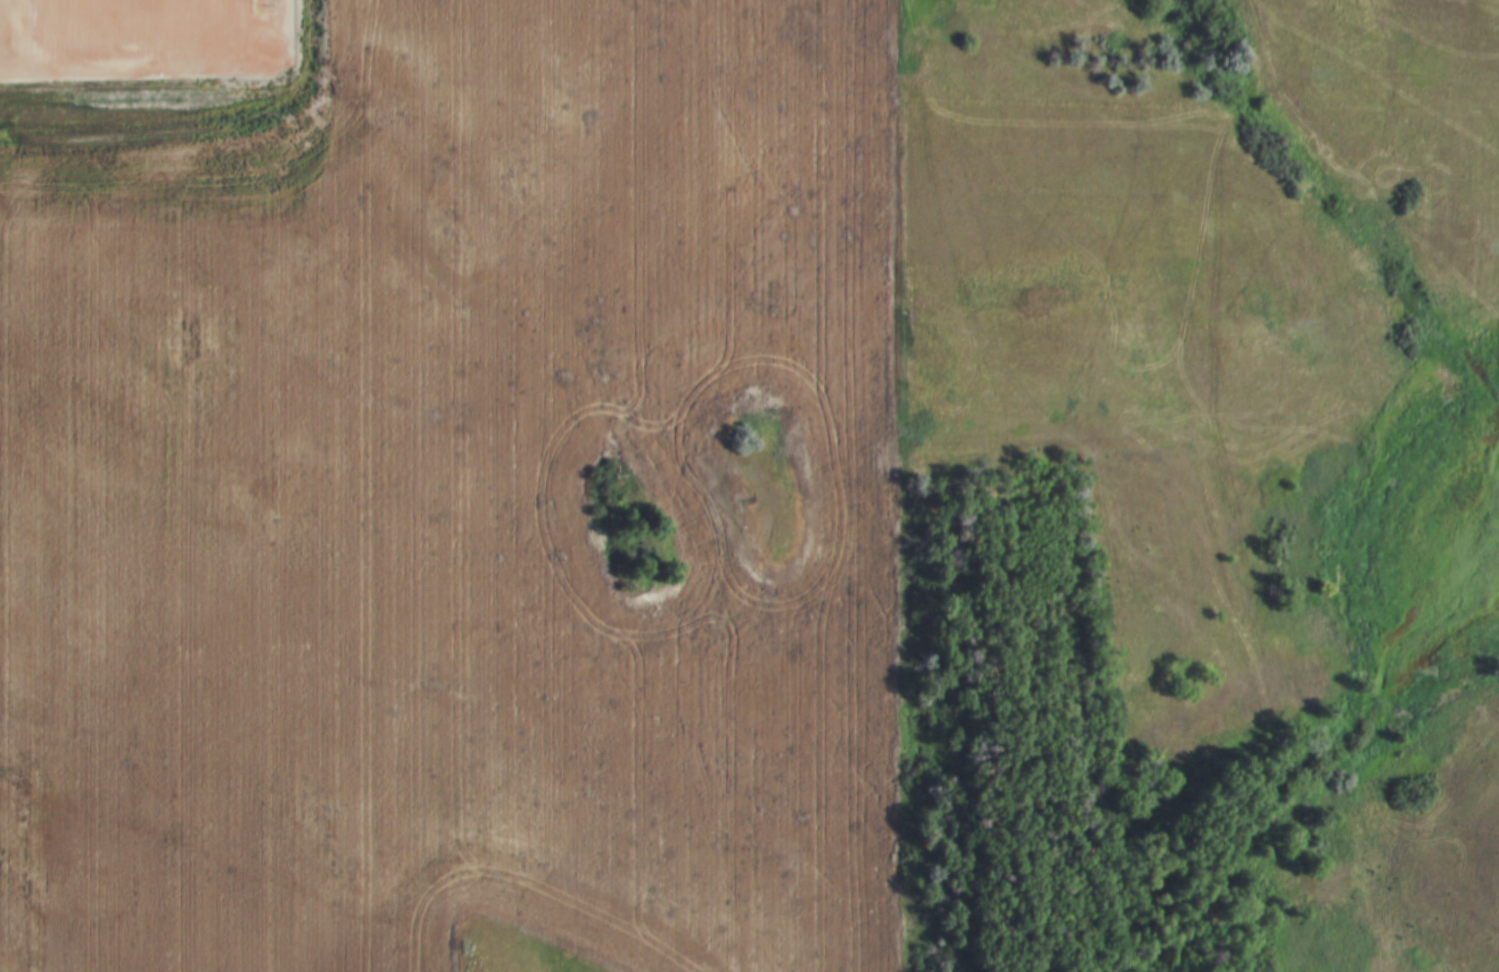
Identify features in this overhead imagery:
road: (1495, 657)

